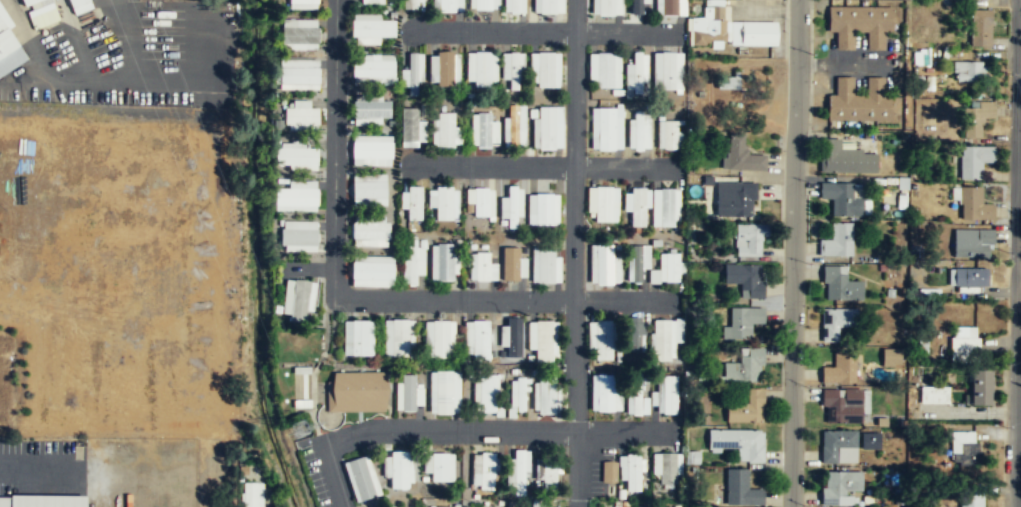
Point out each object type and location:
building: (28, 1)
building: (304, 1)
building: (372, 2)
building: (414, 4)
building: (483, 4)
building: (80, 5)
building: (447, 5)
building: (514, 6)
building: (548, 6)
building: (634, 6)
building: (604, 7)
building: (668, 7)
building: (4, 20)
building: (859, 26)
building: (374, 28)
building: (980, 28)
building: (728, 30)
road: (544, 32)
building: (301, 34)
building: (373, 67)
building: (445, 67)
building: (482, 68)
building: (546, 68)
building: (514, 69)
building: (603, 69)
building: (666, 70)
building: (413, 72)
building: (635, 72)
building: (968, 72)
building: (299, 74)
building: (732, 80)
building: (859, 101)
building: (372, 108)
building: (300, 115)
building: (977, 118)
building: (409, 123)
building: (513, 124)
building: (547, 126)
building: (446, 128)
building: (484, 128)
building: (604, 128)
building: (636, 130)
building: (669, 134)
building: (373, 148)
building: (737, 153)
building: (296, 155)
building: (843, 158)
building: (973, 162)
road: (545, 166)
building: (707, 180)
building: (370, 188)
building: (296, 195)
building: (735, 198)
building: (841, 198)
building: (481, 200)
building: (415, 202)
building: (444, 202)
building: (601, 203)
building: (512, 206)
building: (973, 206)
building: (636, 207)
building: (665, 207)
building: (544, 208)
road: (574, 215)
building: (371, 229)
building: (299, 236)
building: (749, 240)
building: (837, 240)
building: (972, 244)
road: (793, 253)
road: (1017, 253)
building: (445, 260)
building: (412, 261)
building: (511, 262)
building: (635, 263)
building: (547, 264)
building: (602, 264)
building: (483, 265)
building: (670, 267)
building: (373, 270)
building: (745, 279)
building: (967, 279)
building: (840, 284)
road: (359, 298)
building: (300, 300)
building: (837, 320)
building: (742, 321)
building: (633, 334)
building: (359, 336)
building: (400, 336)
building: (441, 338)
building: (601, 338)
building: (480, 339)
building: (512, 339)
building: (660, 339)
building: (544, 340)
building: (634, 343)
building: (963, 349)
building: (891, 357)
building: (741, 364)
building: (840, 368)
building: (979, 388)
building: (408, 391)
building: (603, 391)
building: (356, 392)
building: (444, 392)
building: (487, 392)
building: (547, 392)
building: (634, 392)
building: (520, 393)
building: (668, 394)
building: (935, 396)
building: (842, 405)
building: (746, 409)
building: (881, 422)
power tower: (300, 428)
road: (421, 430)
road: (624, 430)
building: (870, 440)
building: (738, 443)
building: (835, 443)
building: (965, 451)
road: (36, 460)
building: (439, 466)
building: (666, 467)
road: (577, 468)
building: (399, 469)
building: (487, 470)
building: (631, 471)
building: (519, 472)
building: (550, 473)
building: (608, 474)
building: (361, 477)
building: (838, 485)
building: (741, 489)
building: (252, 500)
building: (42, 501)
building: (971, 504)
building: (519, 506)
building: (639, 506)

